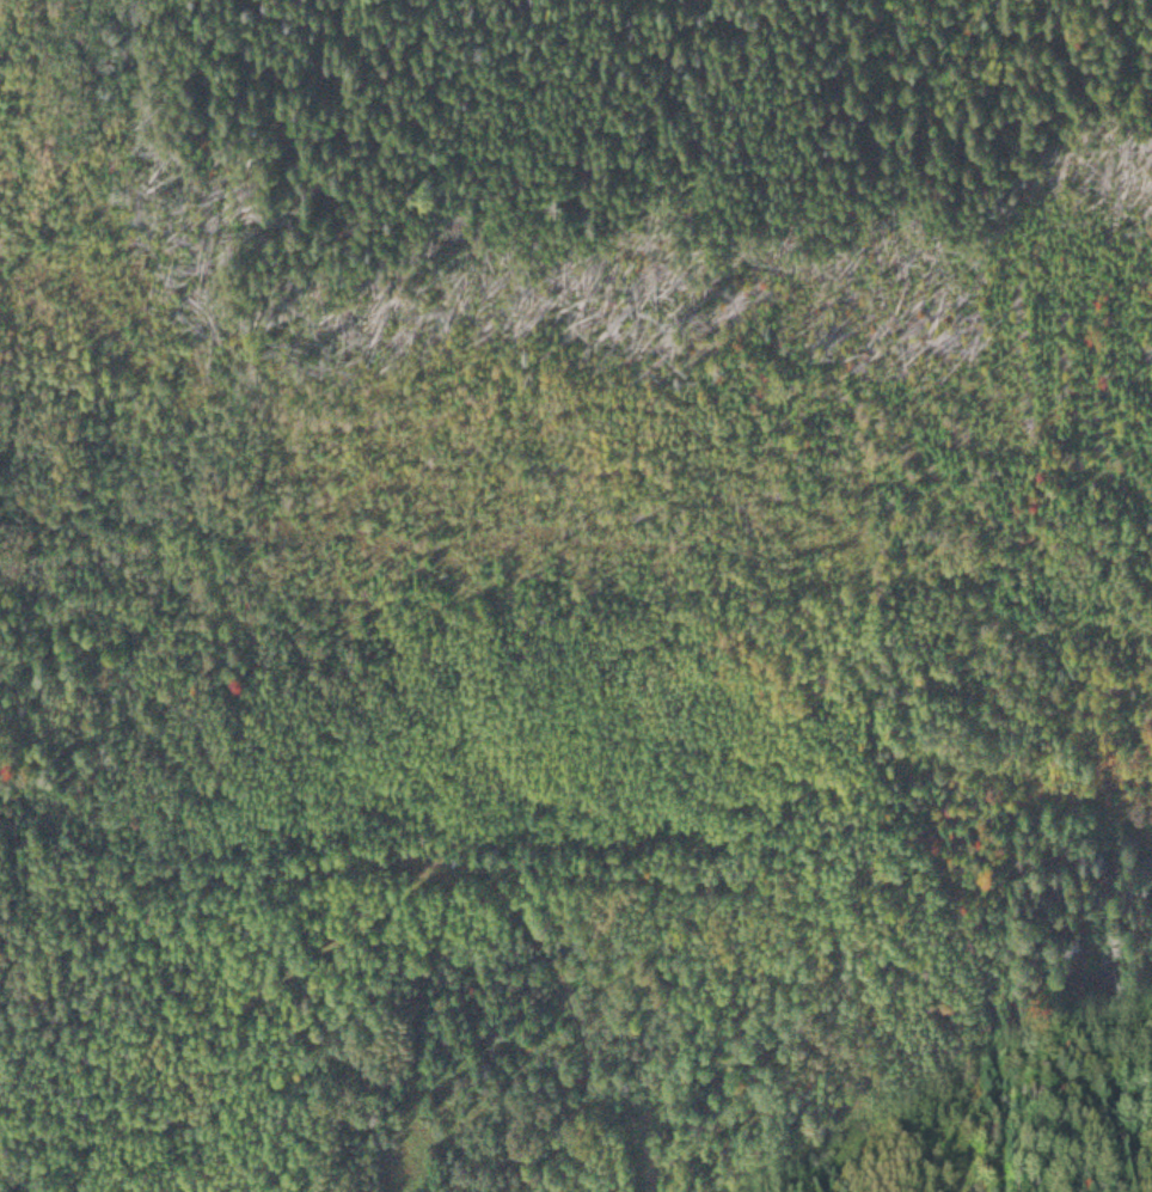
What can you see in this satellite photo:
road: (544, 998)

